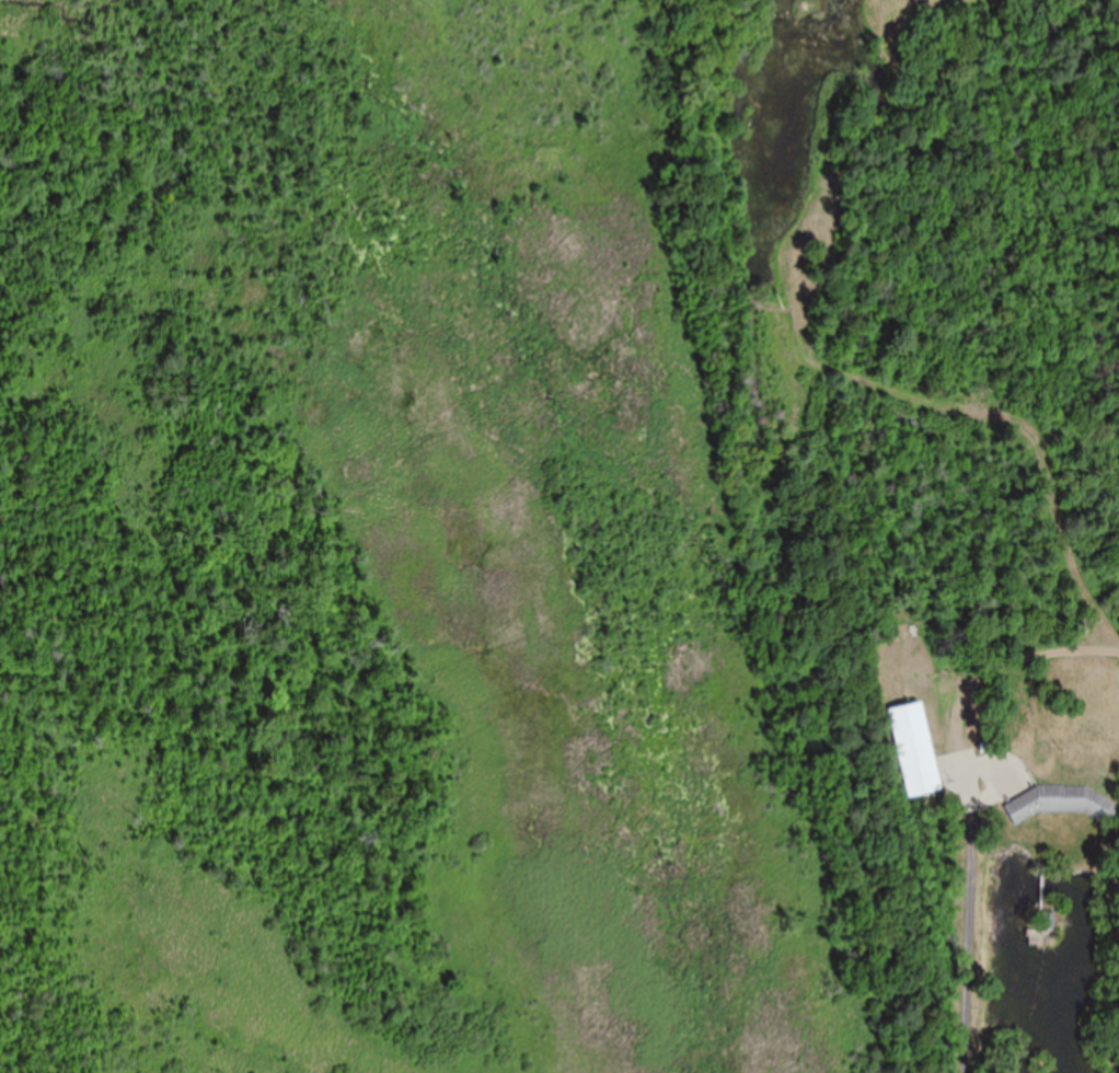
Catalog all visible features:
building: (915, 749)
building: (1061, 804)

